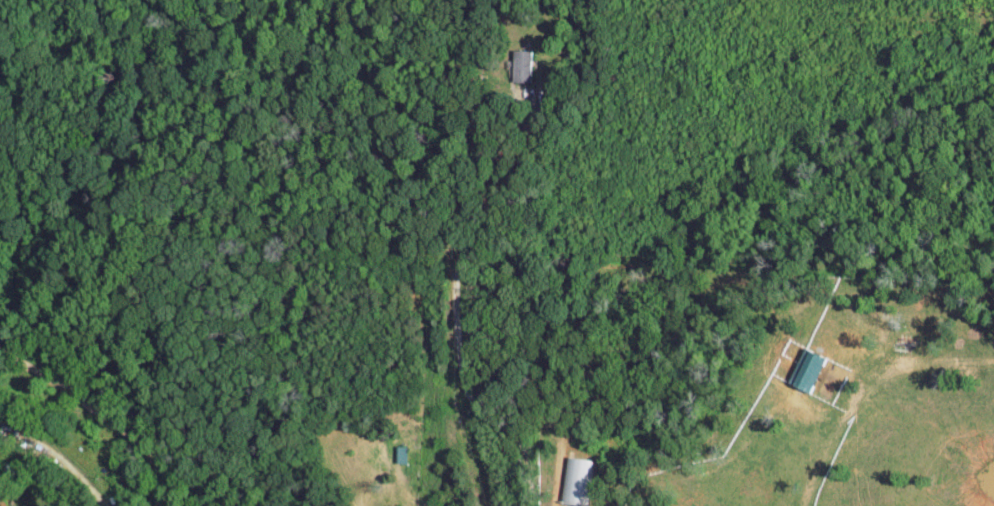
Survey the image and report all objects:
building: (526, 65)
road: (457, 303)
building: (804, 370)
road: (102, 413)
road: (61, 453)
building: (400, 453)
building: (574, 480)

